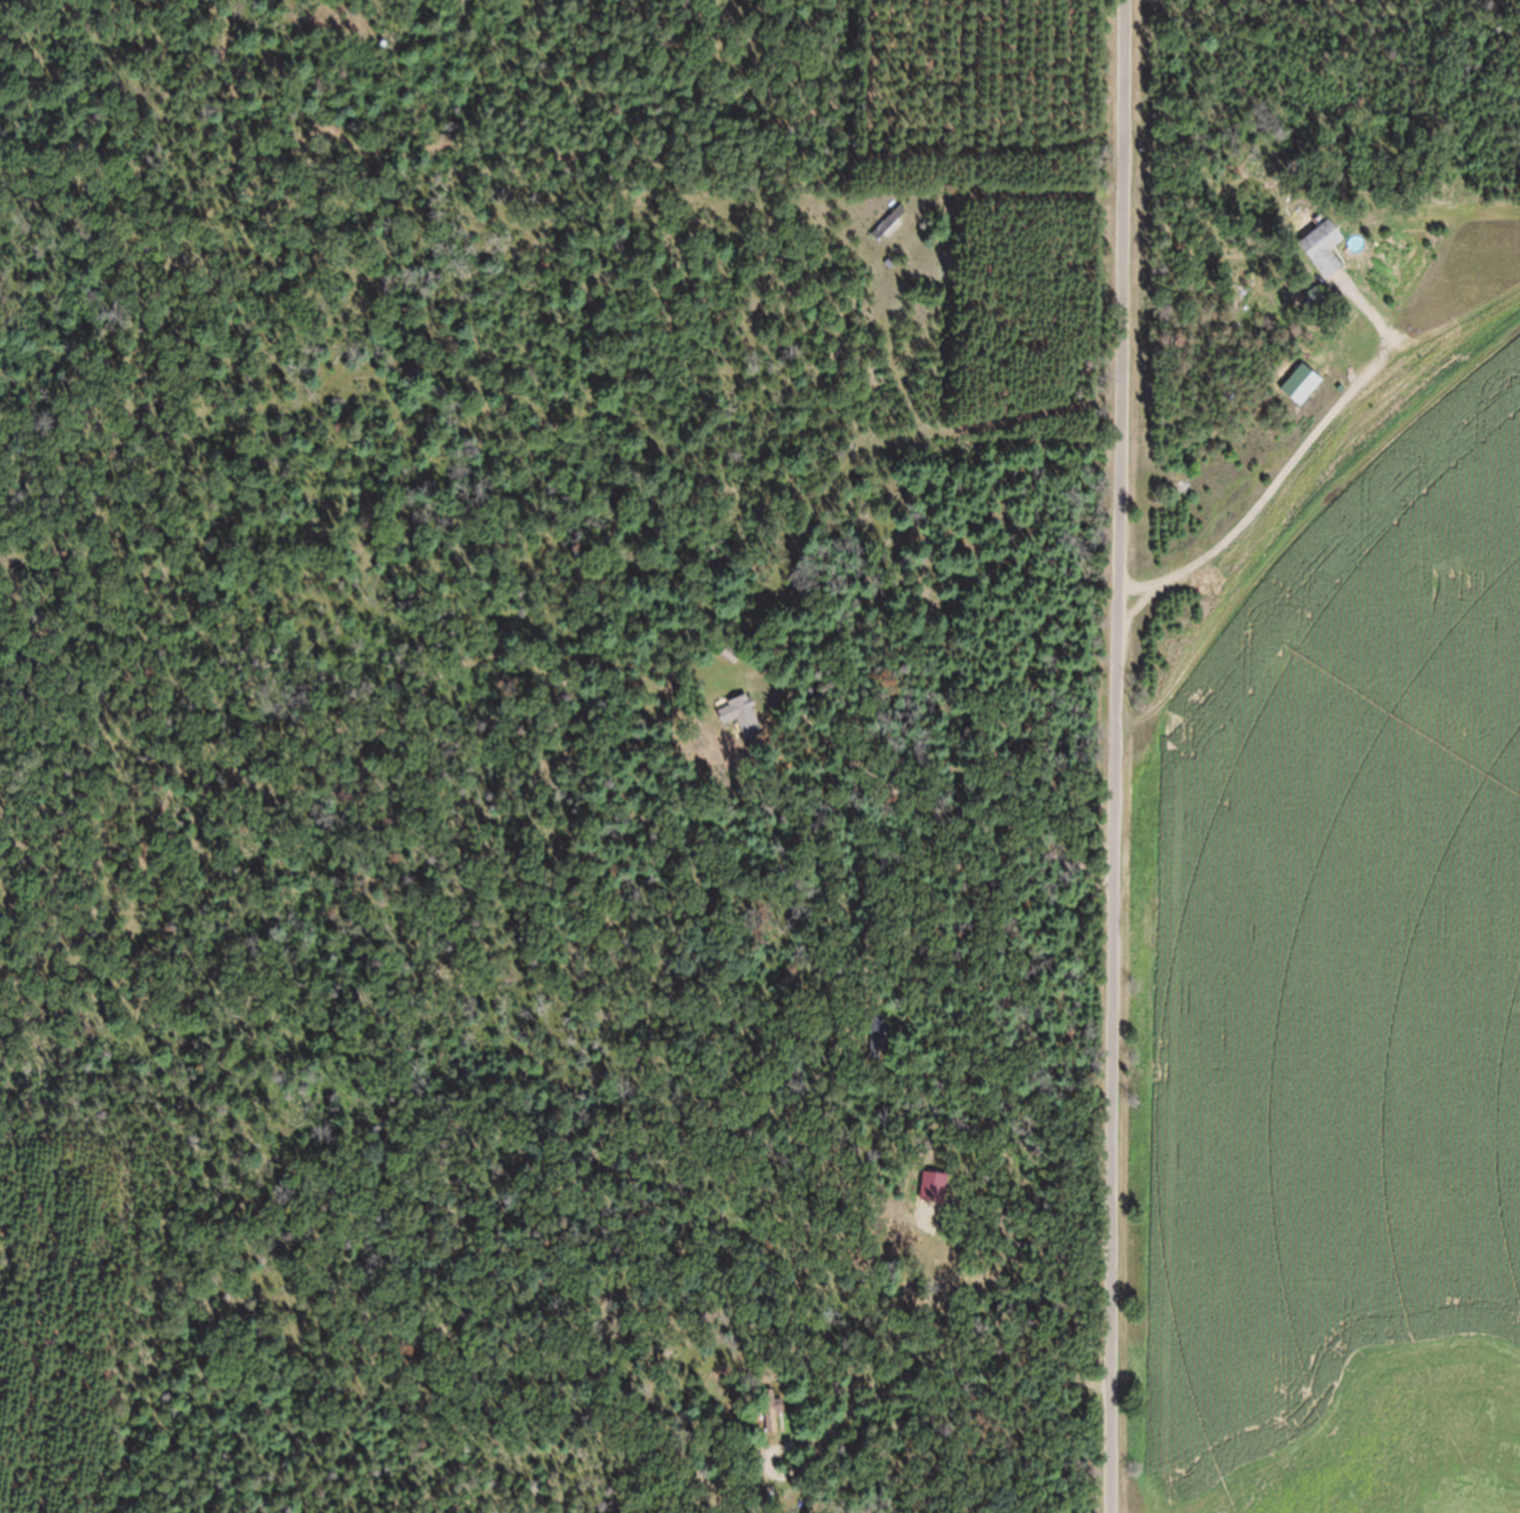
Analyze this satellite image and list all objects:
building: (891, 235)
building: (1325, 261)
building: (1303, 397)
building: (733, 665)
building: (744, 727)
road: (1112, 756)
building: (882, 1050)
building: (773, 1425)

